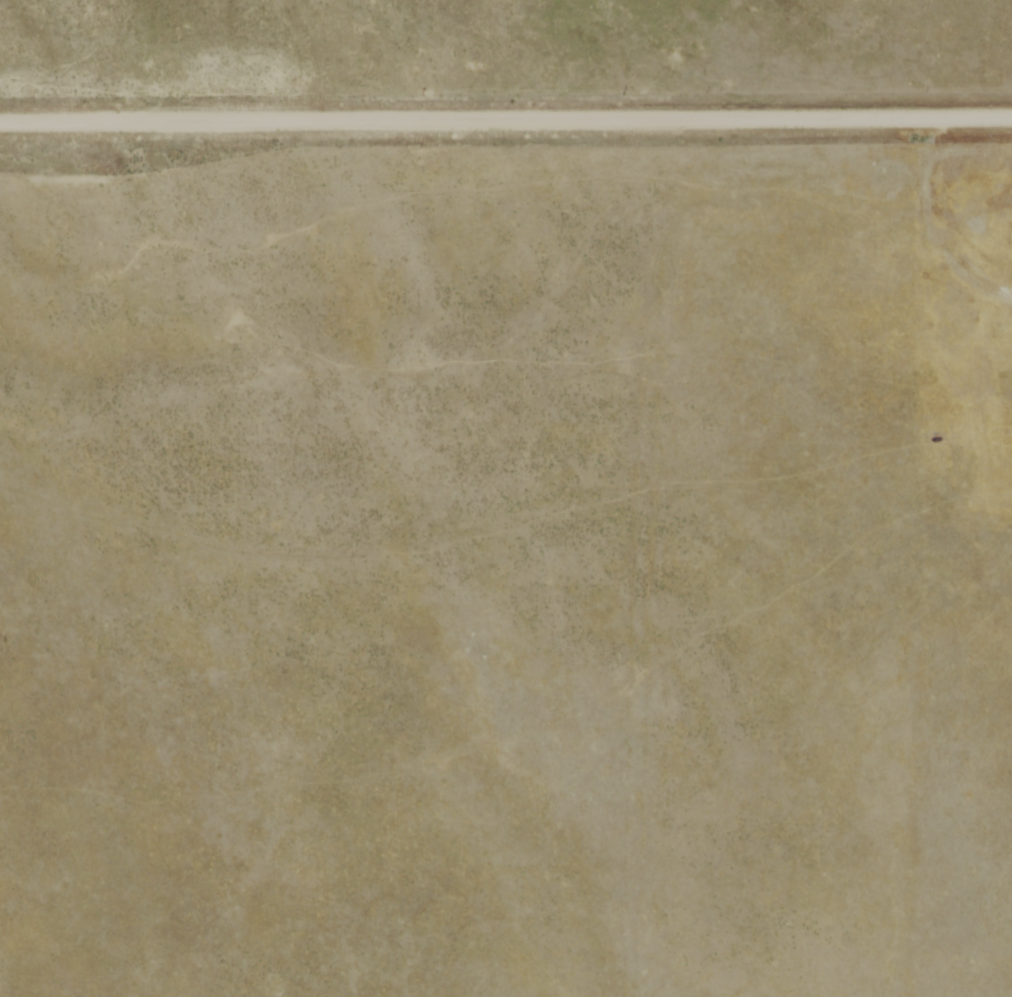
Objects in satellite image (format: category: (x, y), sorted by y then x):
road: (506, 121)

